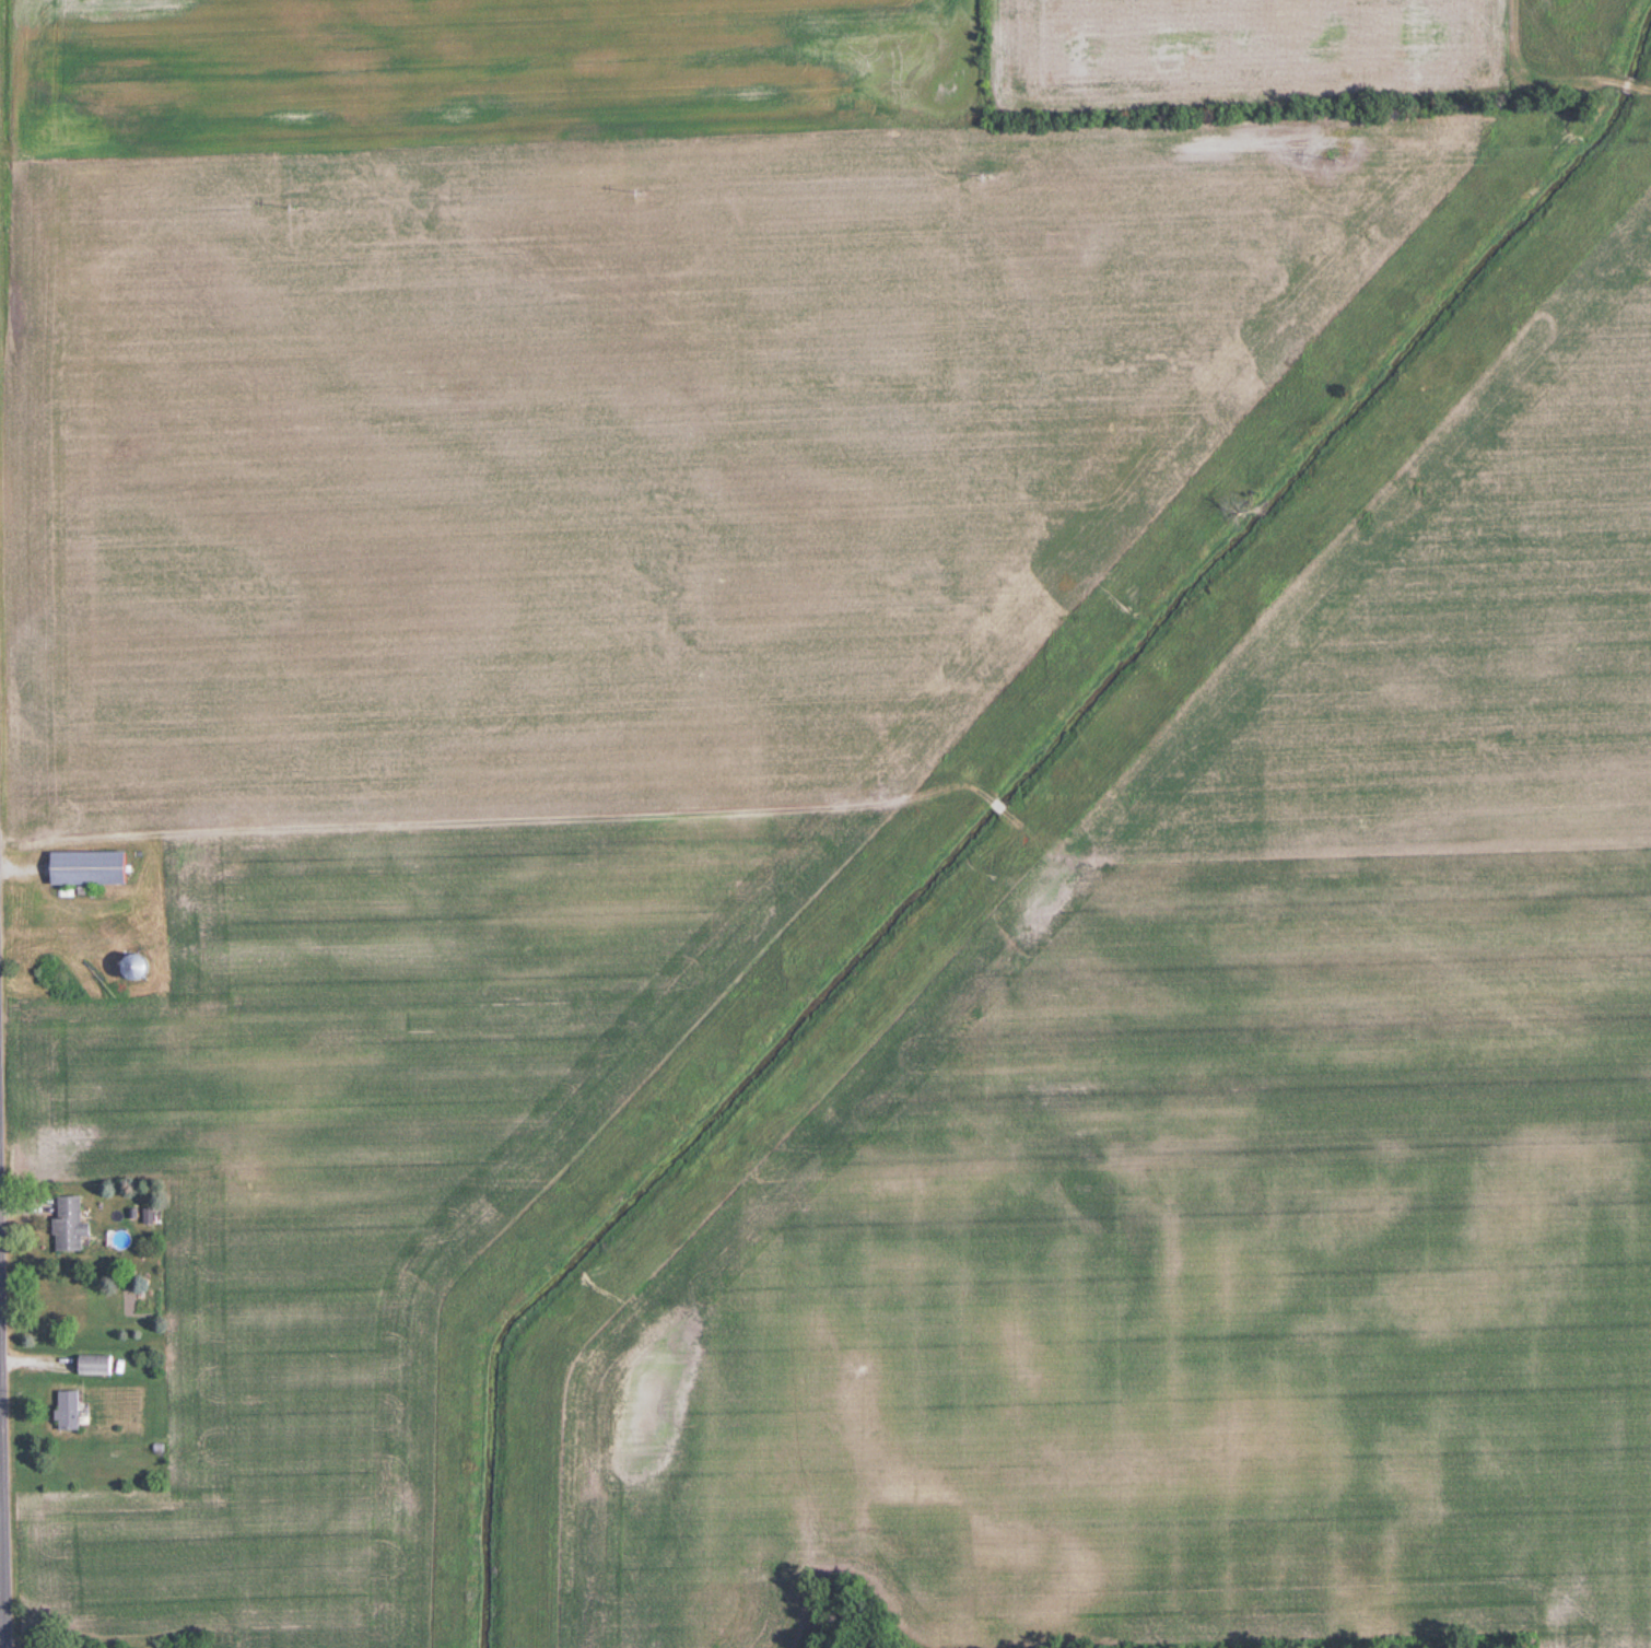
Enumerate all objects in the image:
building: (97, 866)
building: (75, 1222)
building: (102, 1363)
building: (73, 1409)
road: (1, 1497)
road: (2, 1520)

